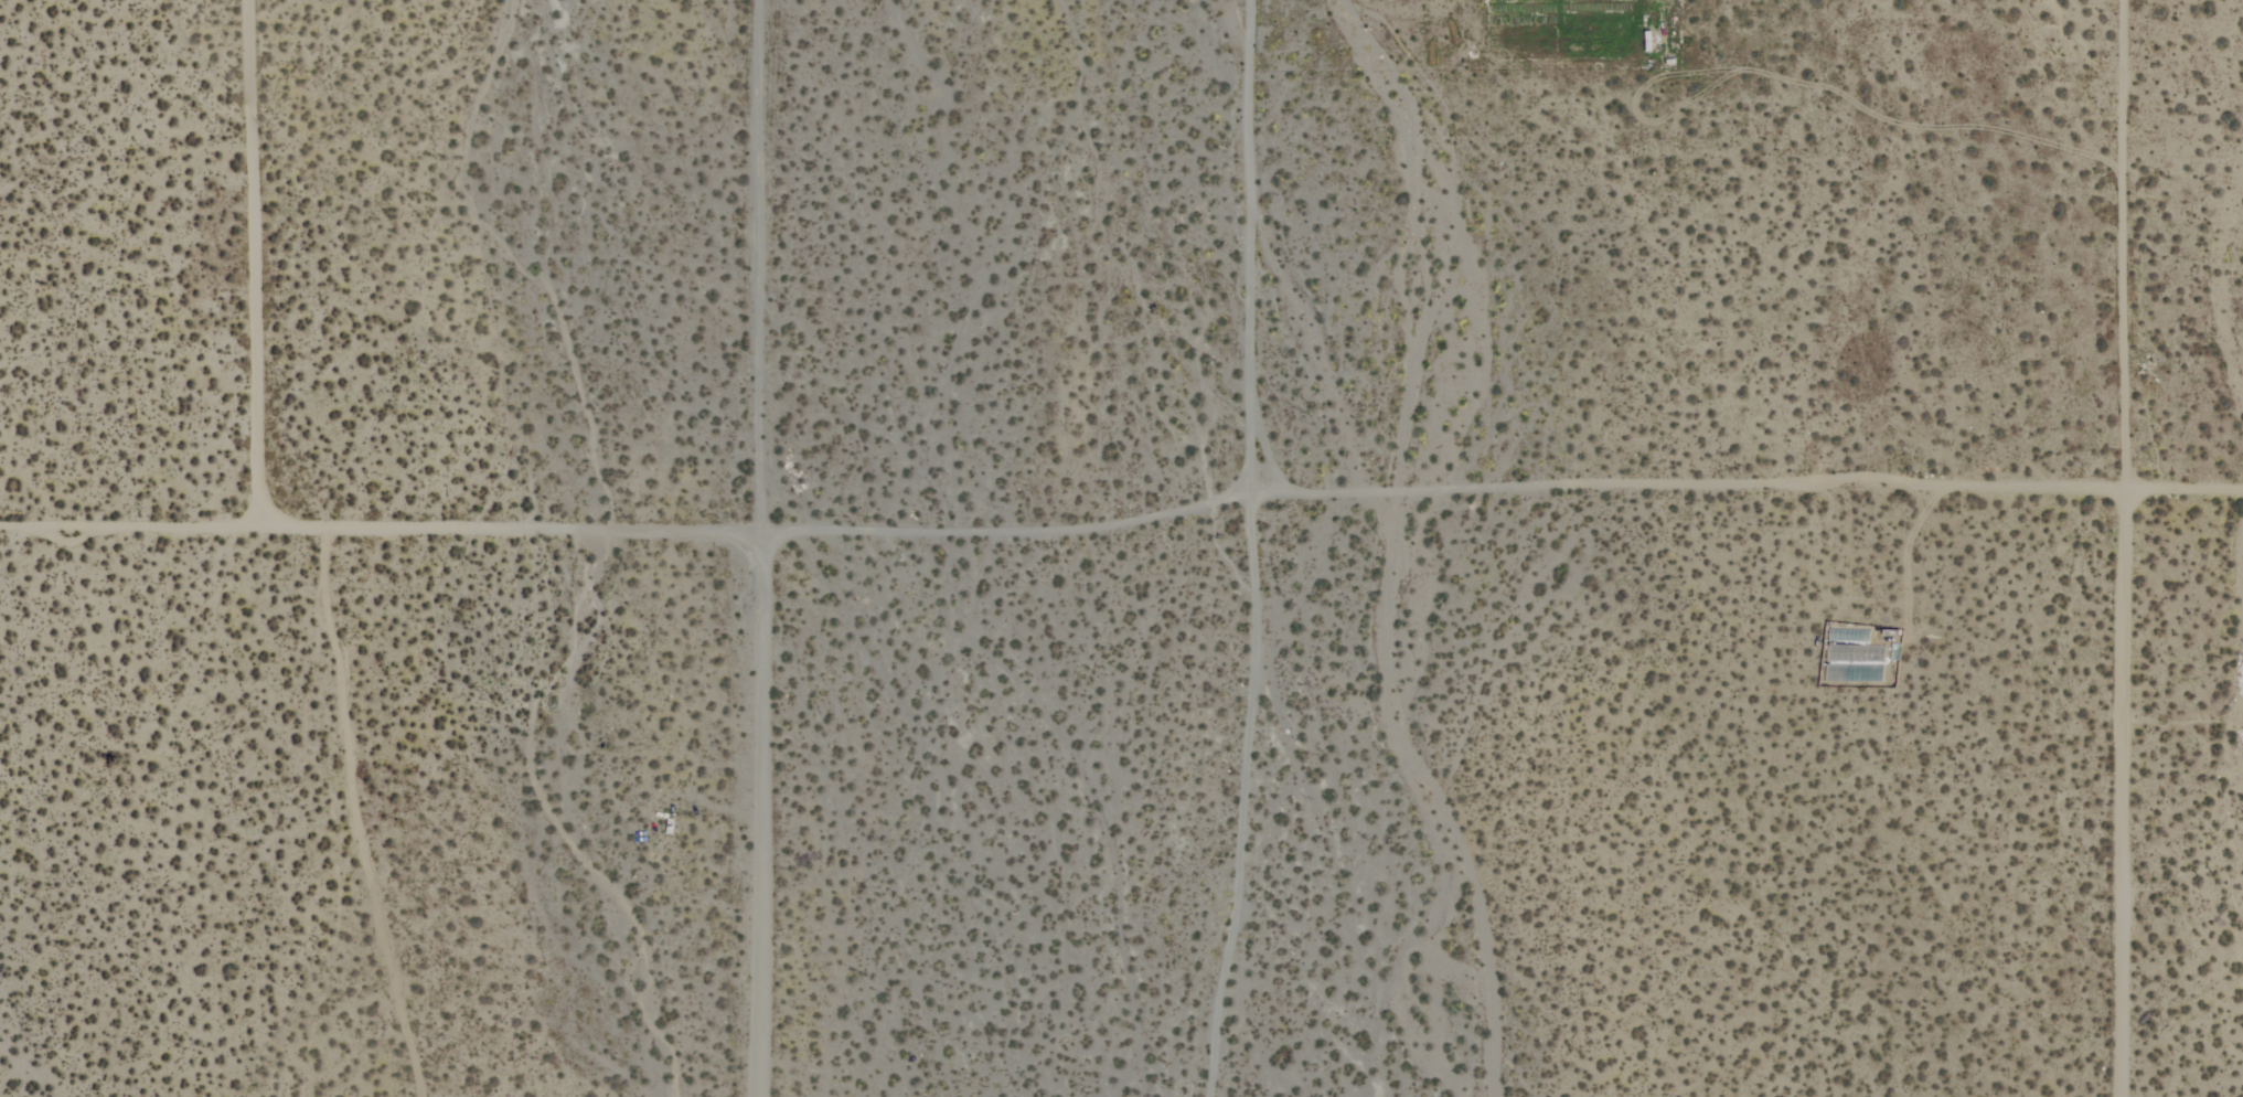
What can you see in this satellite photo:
road: (1248, 252)
road: (243, 259)
road: (1122, 524)
road: (756, 547)
road: (2121, 786)

